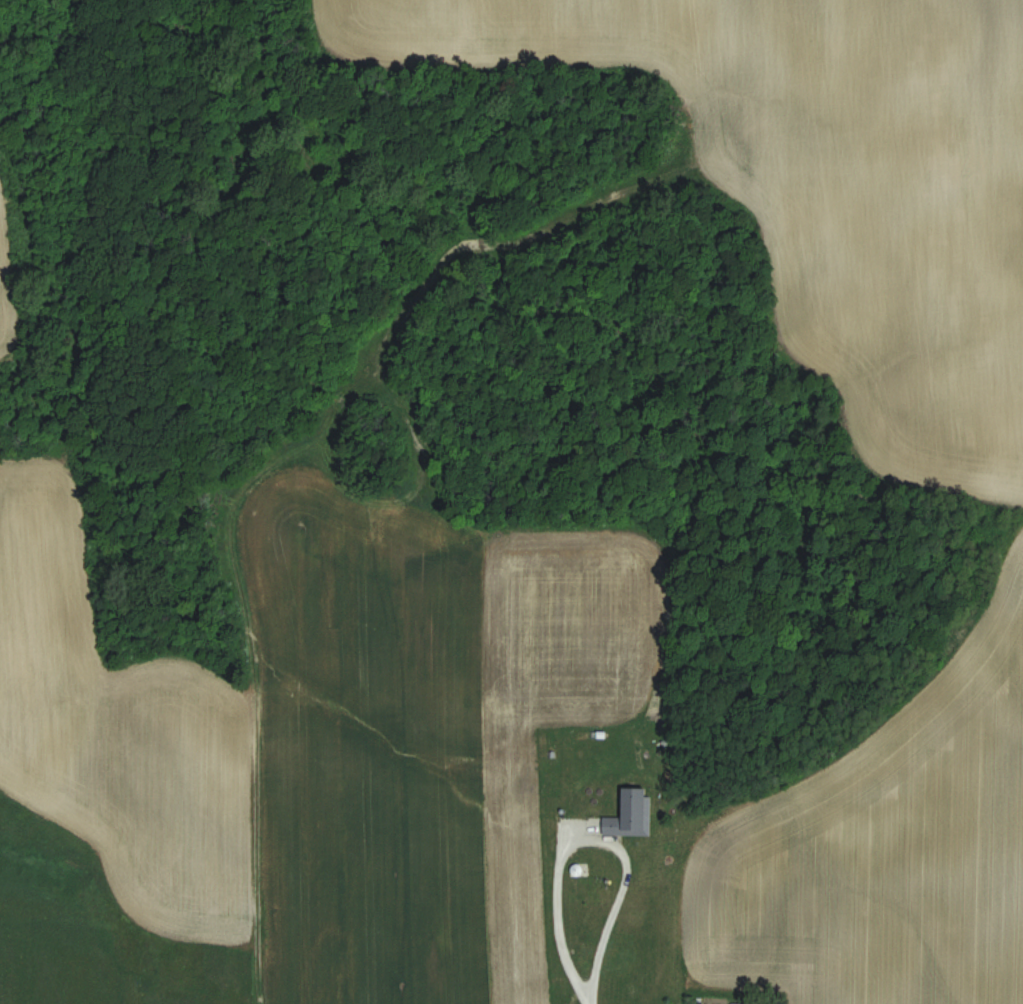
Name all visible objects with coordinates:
building: (579, 879)
road: (564, 893)
building: (608, 952)

